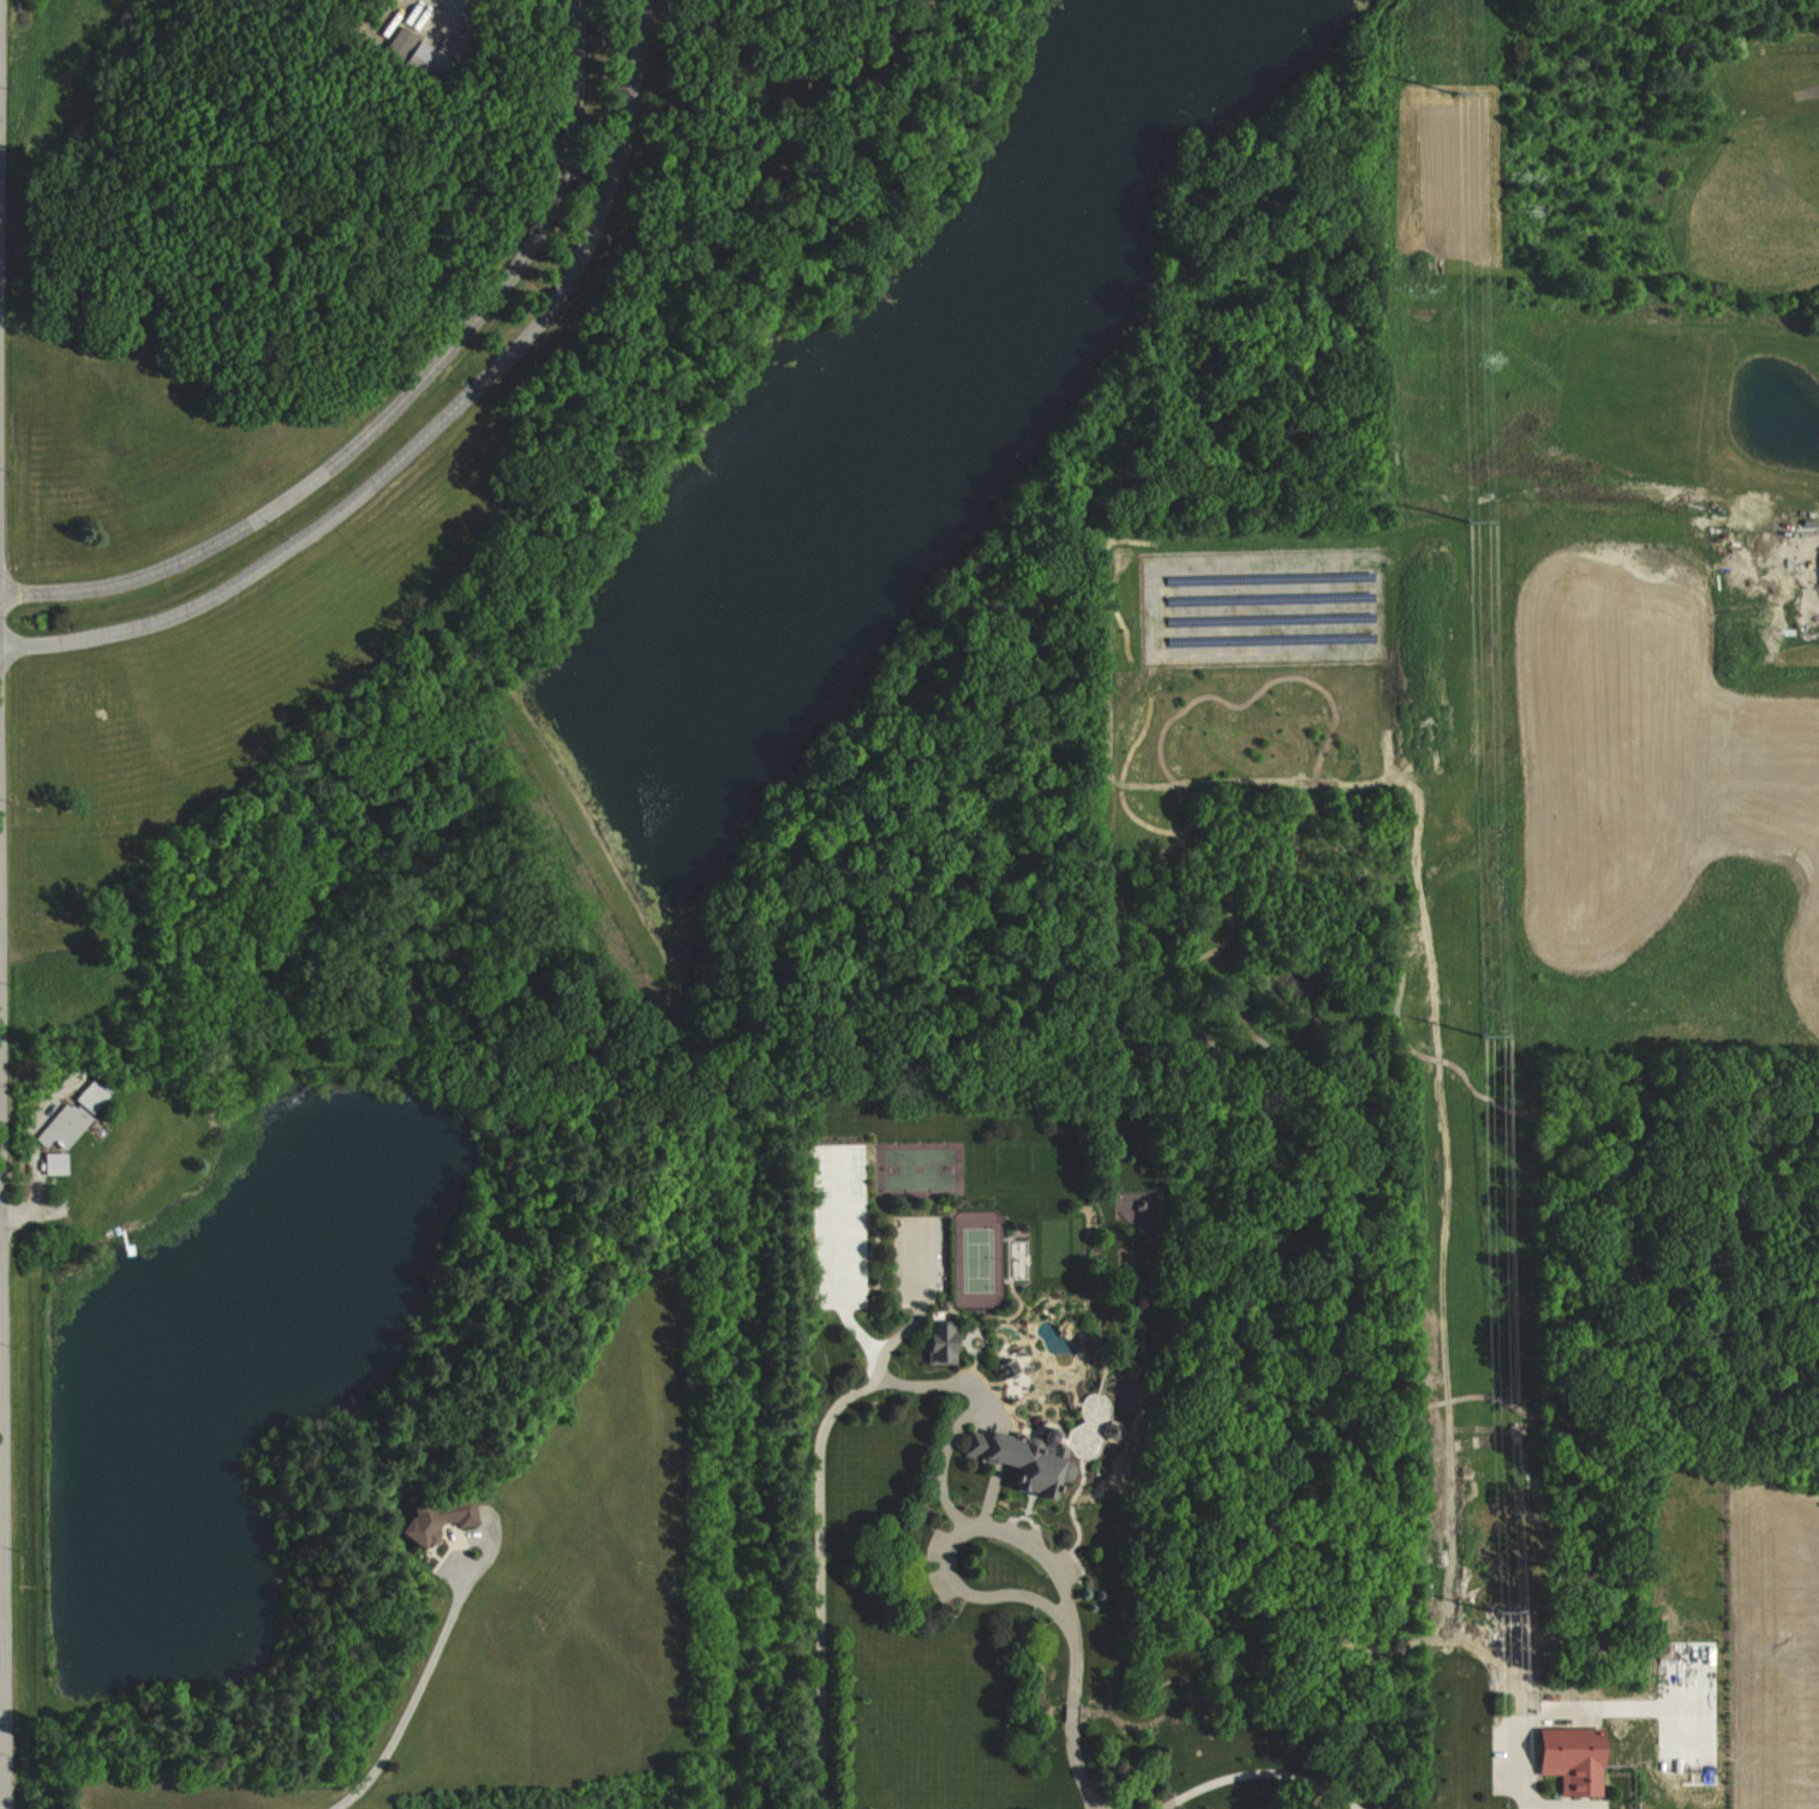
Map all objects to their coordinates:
power tower: (1456, 92)
road: (402, 401)
road: (432, 430)
power tower: (1468, 521)
road: (2, 1004)
power tower: (1483, 1035)
building: (77, 1114)
building: (58, 1163)
building: (946, 1341)
road: (950, 1378)
building: (1030, 1464)
building: (442, 1516)
power tower: (1498, 1610)
road: (407, 1696)
building: (1576, 1760)
road: (1258, 1768)

